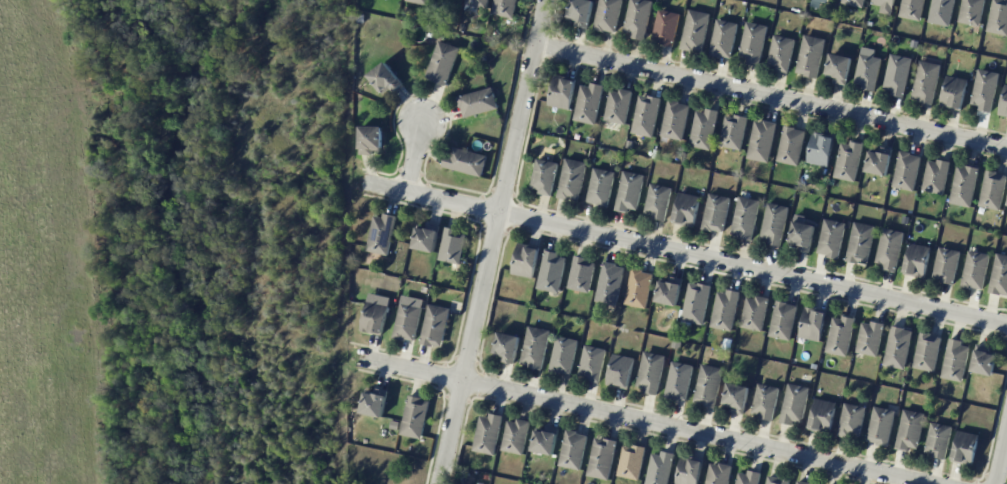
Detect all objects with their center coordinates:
building: (422, 1)
building: (455, 1)
building: (857, 2)
building: (477, 5)
building: (887, 5)
building: (506, 7)
building: (915, 9)
building: (944, 11)
building: (974, 11)
building: (586, 12)
building: (822, 12)
building: (610, 15)
building: (362, 18)
building: (640, 18)
building: (999, 18)
building: (668, 27)
building: (697, 30)
building: (726, 38)
building: (756, 43)
building: (783, 52)
building: (813, 56)
building: (484, 61)
building: (444, 62)
building: (842, 67)
building: (870, 69)
building: (899, 74)
building: (387, 79)
building: (928, 81)
building: (987, 89)
building: (565, 91)
building: (957, 93)
road: (770, 95)
building: (360, 98)
building: (481, 102)
building: (591, 103)
building: (620, 105)
building: (1005, 105)
building: (648, 115)
building: (678, 119)
building: (706, 128)
building: (736, 132)
building: (373, 140)
building: (764, 141)
building: (793, 146)
building: (823, 149)
road: (411, 156)
building: (851, 160)
building: (469, 162)
building: (881, 162)
building: (908, 171)
building: (546, 176)
building: (938, 176)
building: (573, 179)
building: (966, 185)
building: (602, 187)
building: (994, 190)
building: (631, 191)
building: (660, 201)
building: (1006, 204)
building: (688, 209)
building: (718, 213)
building: (747, 217)
building: (776, 223)
building: (383, 233)
building: (803, 236)
building: (996, 236)
building: (833, 238)
building: (428, 239)
road: (488, 241)
building: (862, 243)
building: (454, 246)
building: (892, 248)
road: (681, 252)
building: (920, 260)
building: (528, 261)
building: (948, 265)
building: (977, 270)
building: (553, 271)
building: (583, 274)
building: (1000, 275)
building: (611, 283)
building: (640, 288)
building: (670, 293)
building: (698, 303)
building: (727, 310)
building: (757, 313)
building: (376, 317)
building: (409, 321)
building: (785, 321)
building: (815, 325)
building: (437, 326)
building: (843, 335)
building: (872, 338)
building: (537, 347)
building: (900, 347)
building: (509, 349)
building: (929, 352)
building: (565, 355)
building: (957, 360)
building: (986, 361)
building: (593, 362)
building: (623, 371)
building: (653, 372)
building: (681, 380)
building: (711, 385)
building: (738, 399)
building: (768, 401)
building: (797, 403)
building: (375, 405)
building: (824, 416)
building: (417, 417)
road: (641, 419)
building: (854, 421)
building: (883, 426)
building: (912, 430)
building: (490, 434)
building: (518, 436)
building: (940, 440)
building: (546, 443)
building: (968, 448)
building: (575, 450)
road: (1000, 454)
building: (603, 458)
building: (633, 463)
building: (662, 468)
building: (691, 470)
building: (721, 474)
building: (750, 477)
building: (779, 480)
building: (802, 483)

